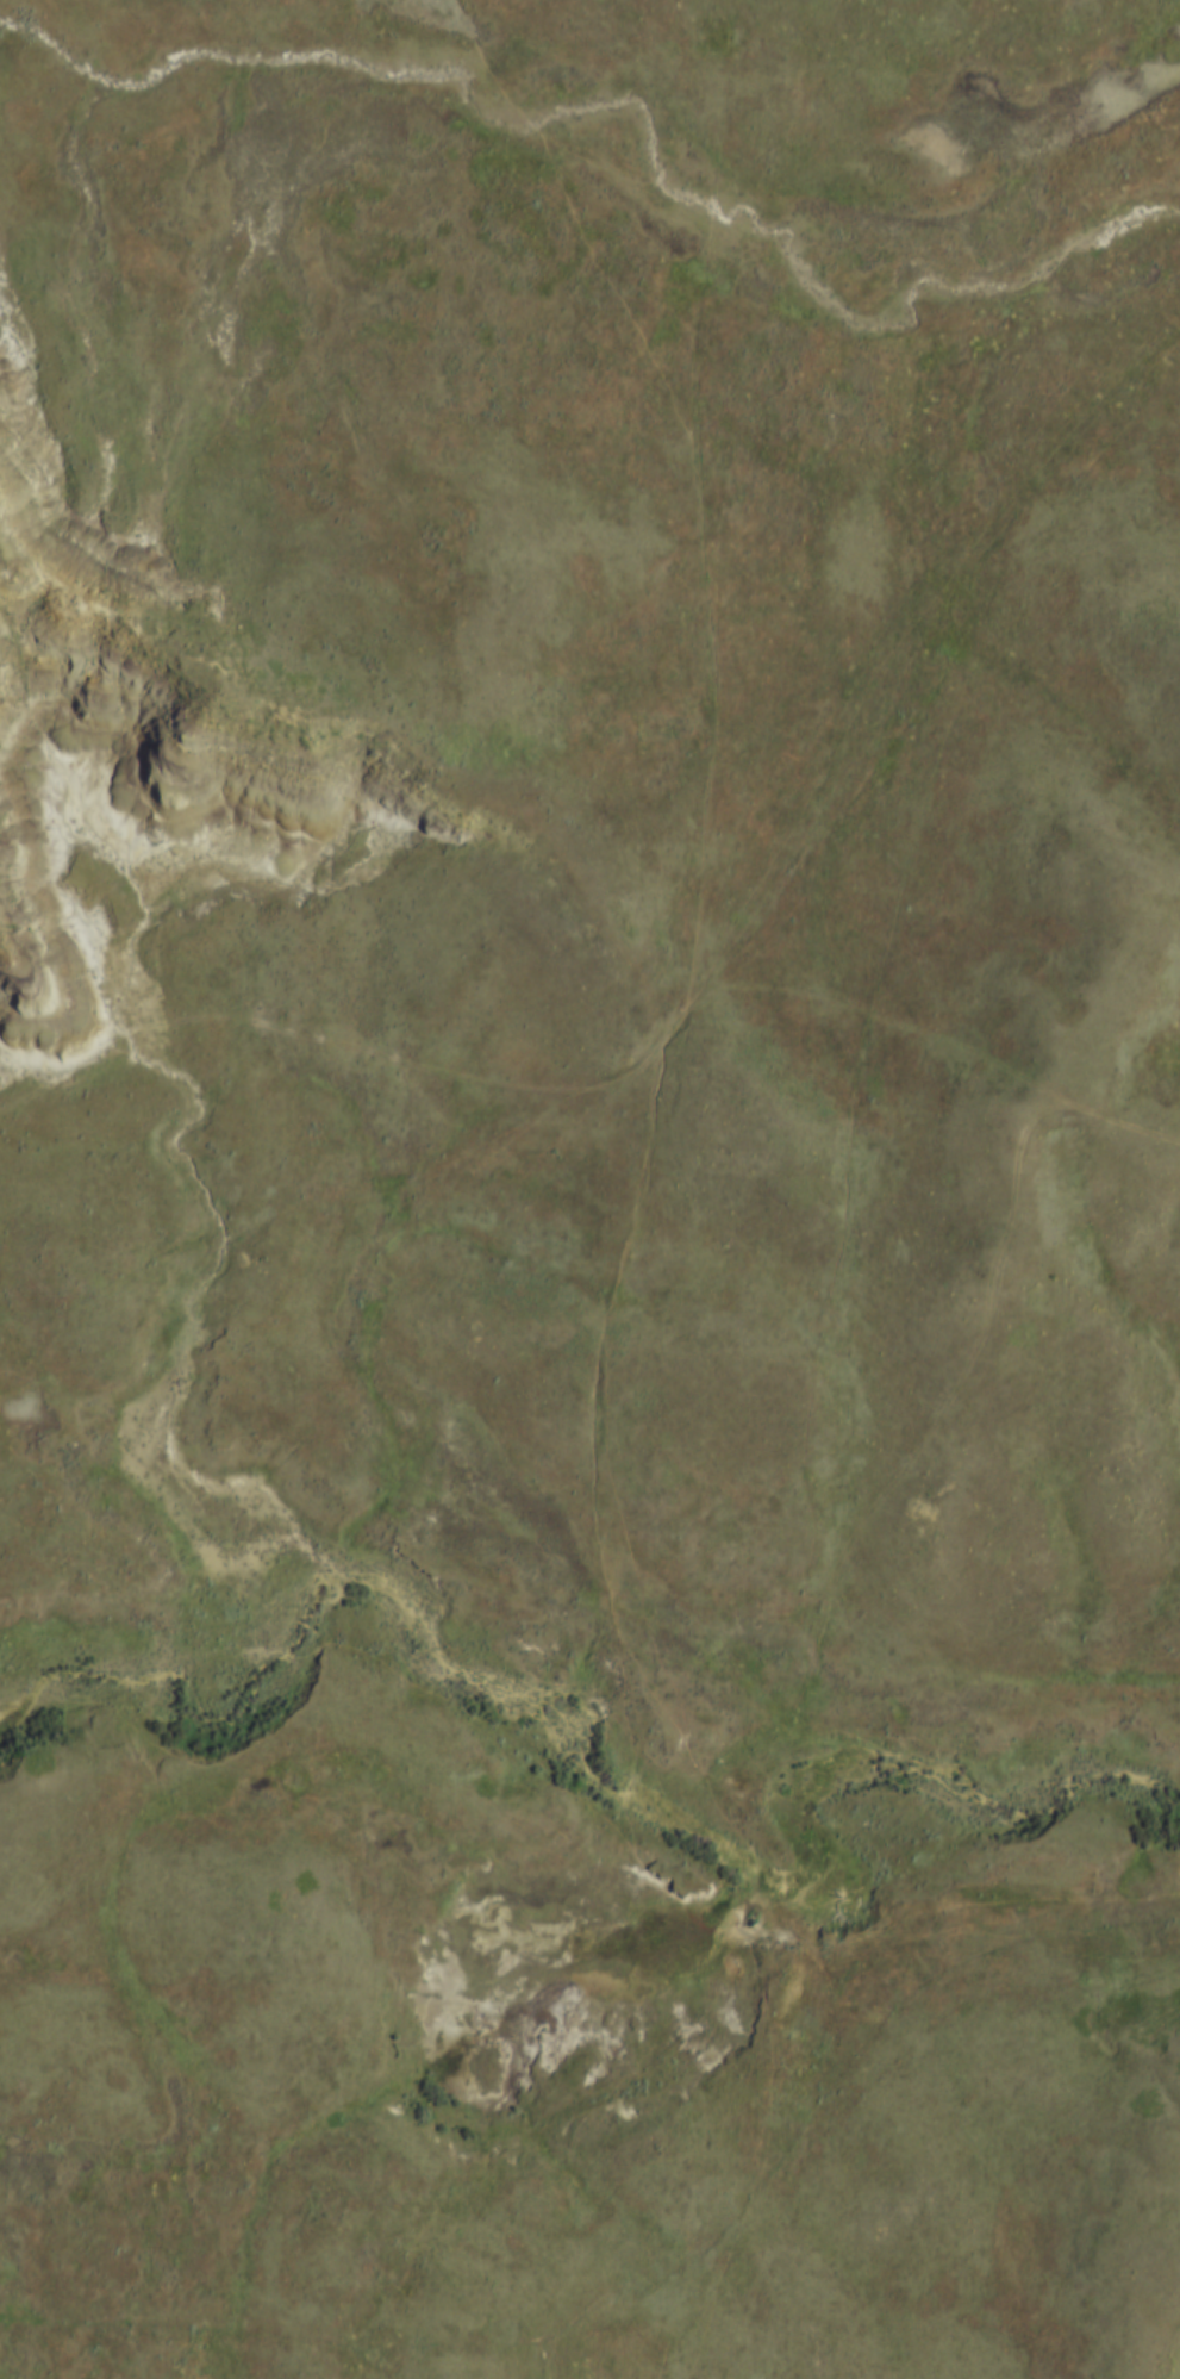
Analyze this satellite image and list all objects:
road: (742, 1517)

